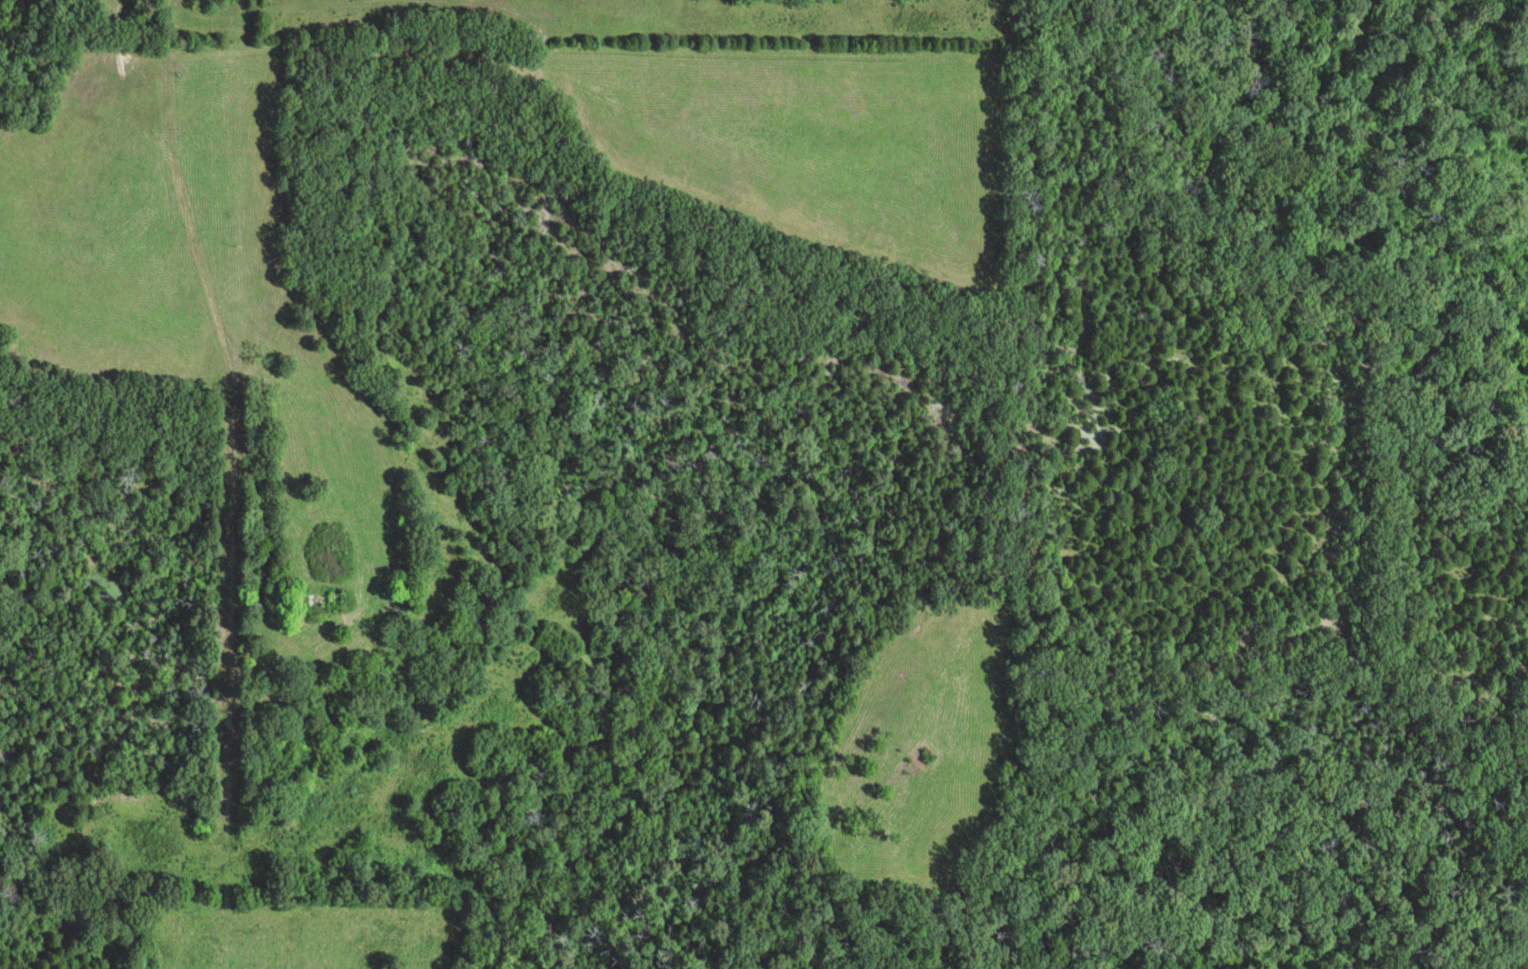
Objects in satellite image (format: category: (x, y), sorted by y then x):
building: (317, 604)

